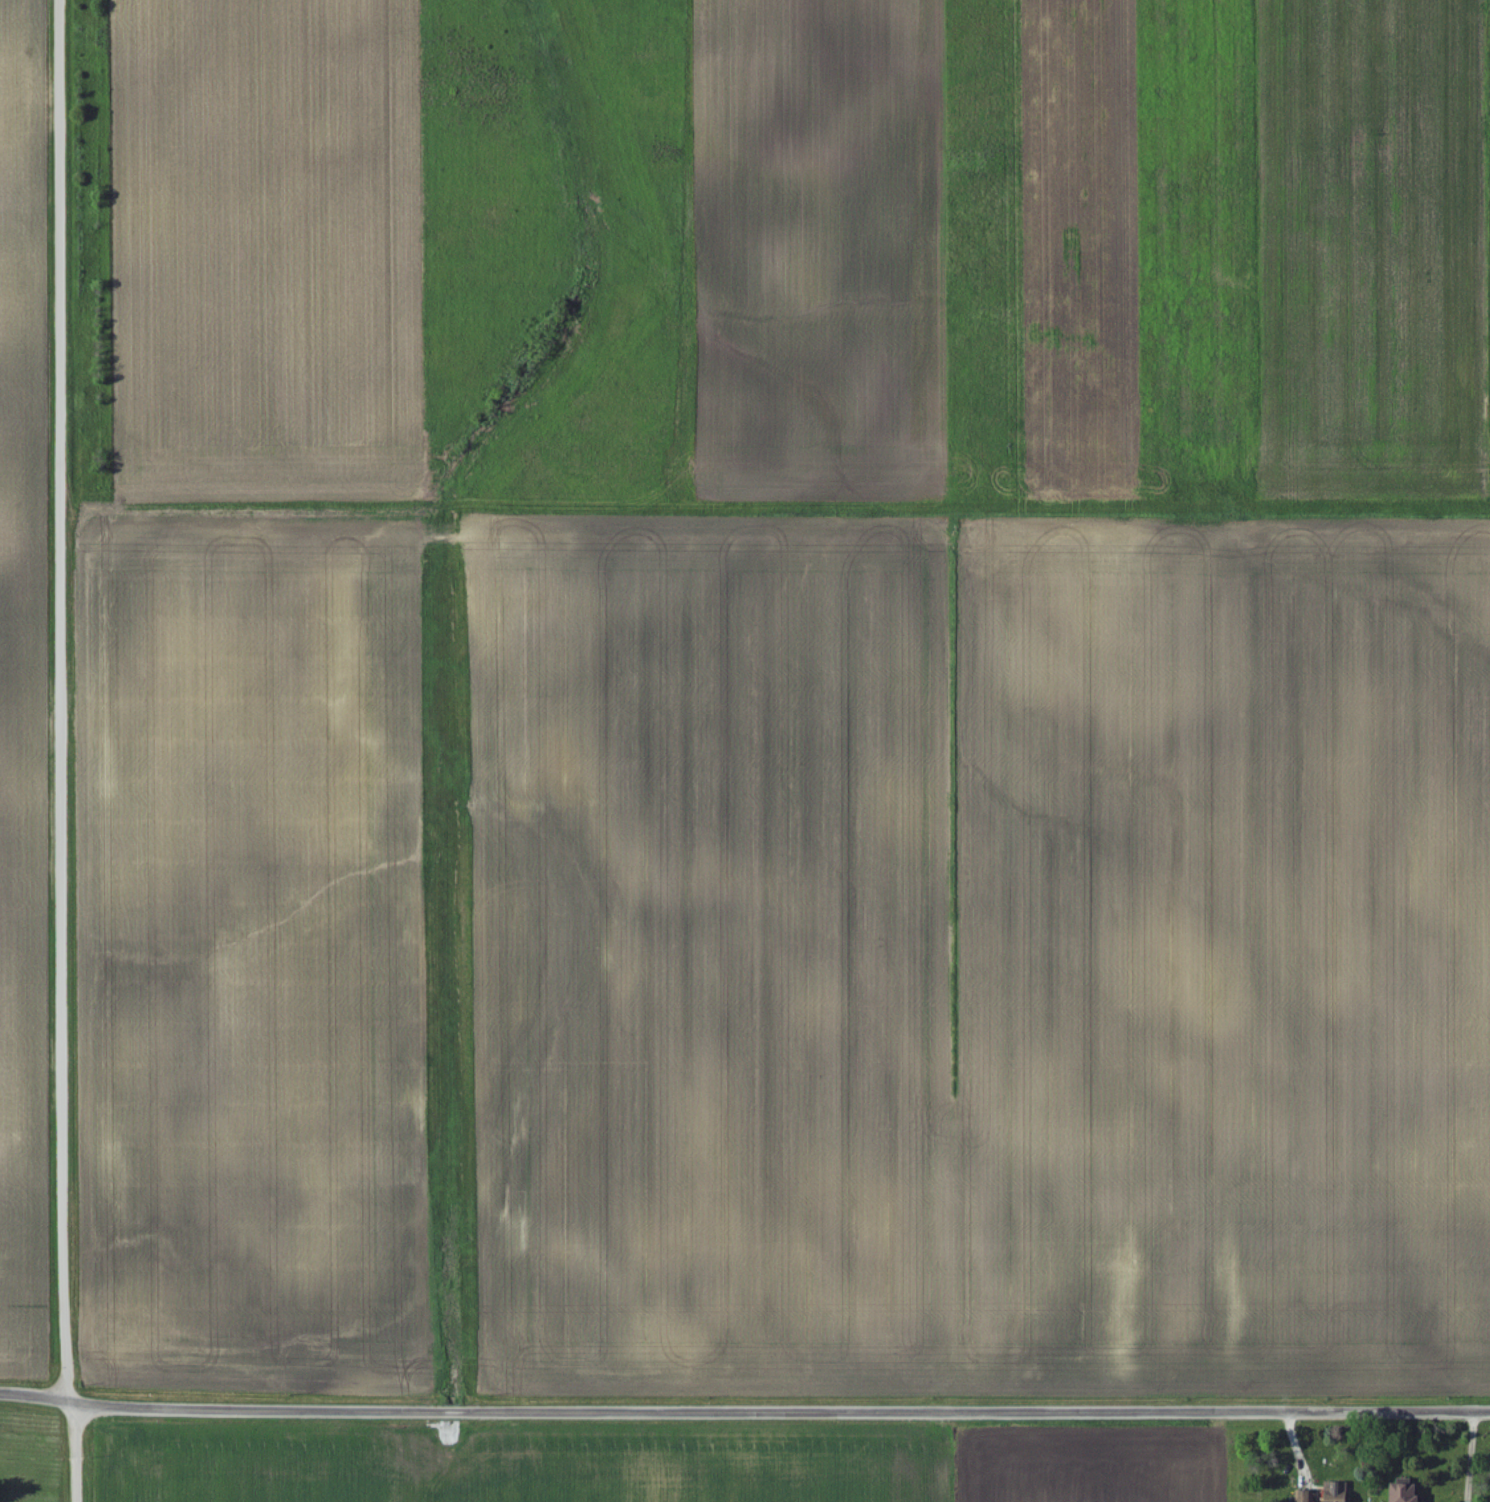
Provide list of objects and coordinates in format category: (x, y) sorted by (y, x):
road: (63, 751)
road: (744, 1412)
road: (1471, 1456)
park: (30, 1496)

